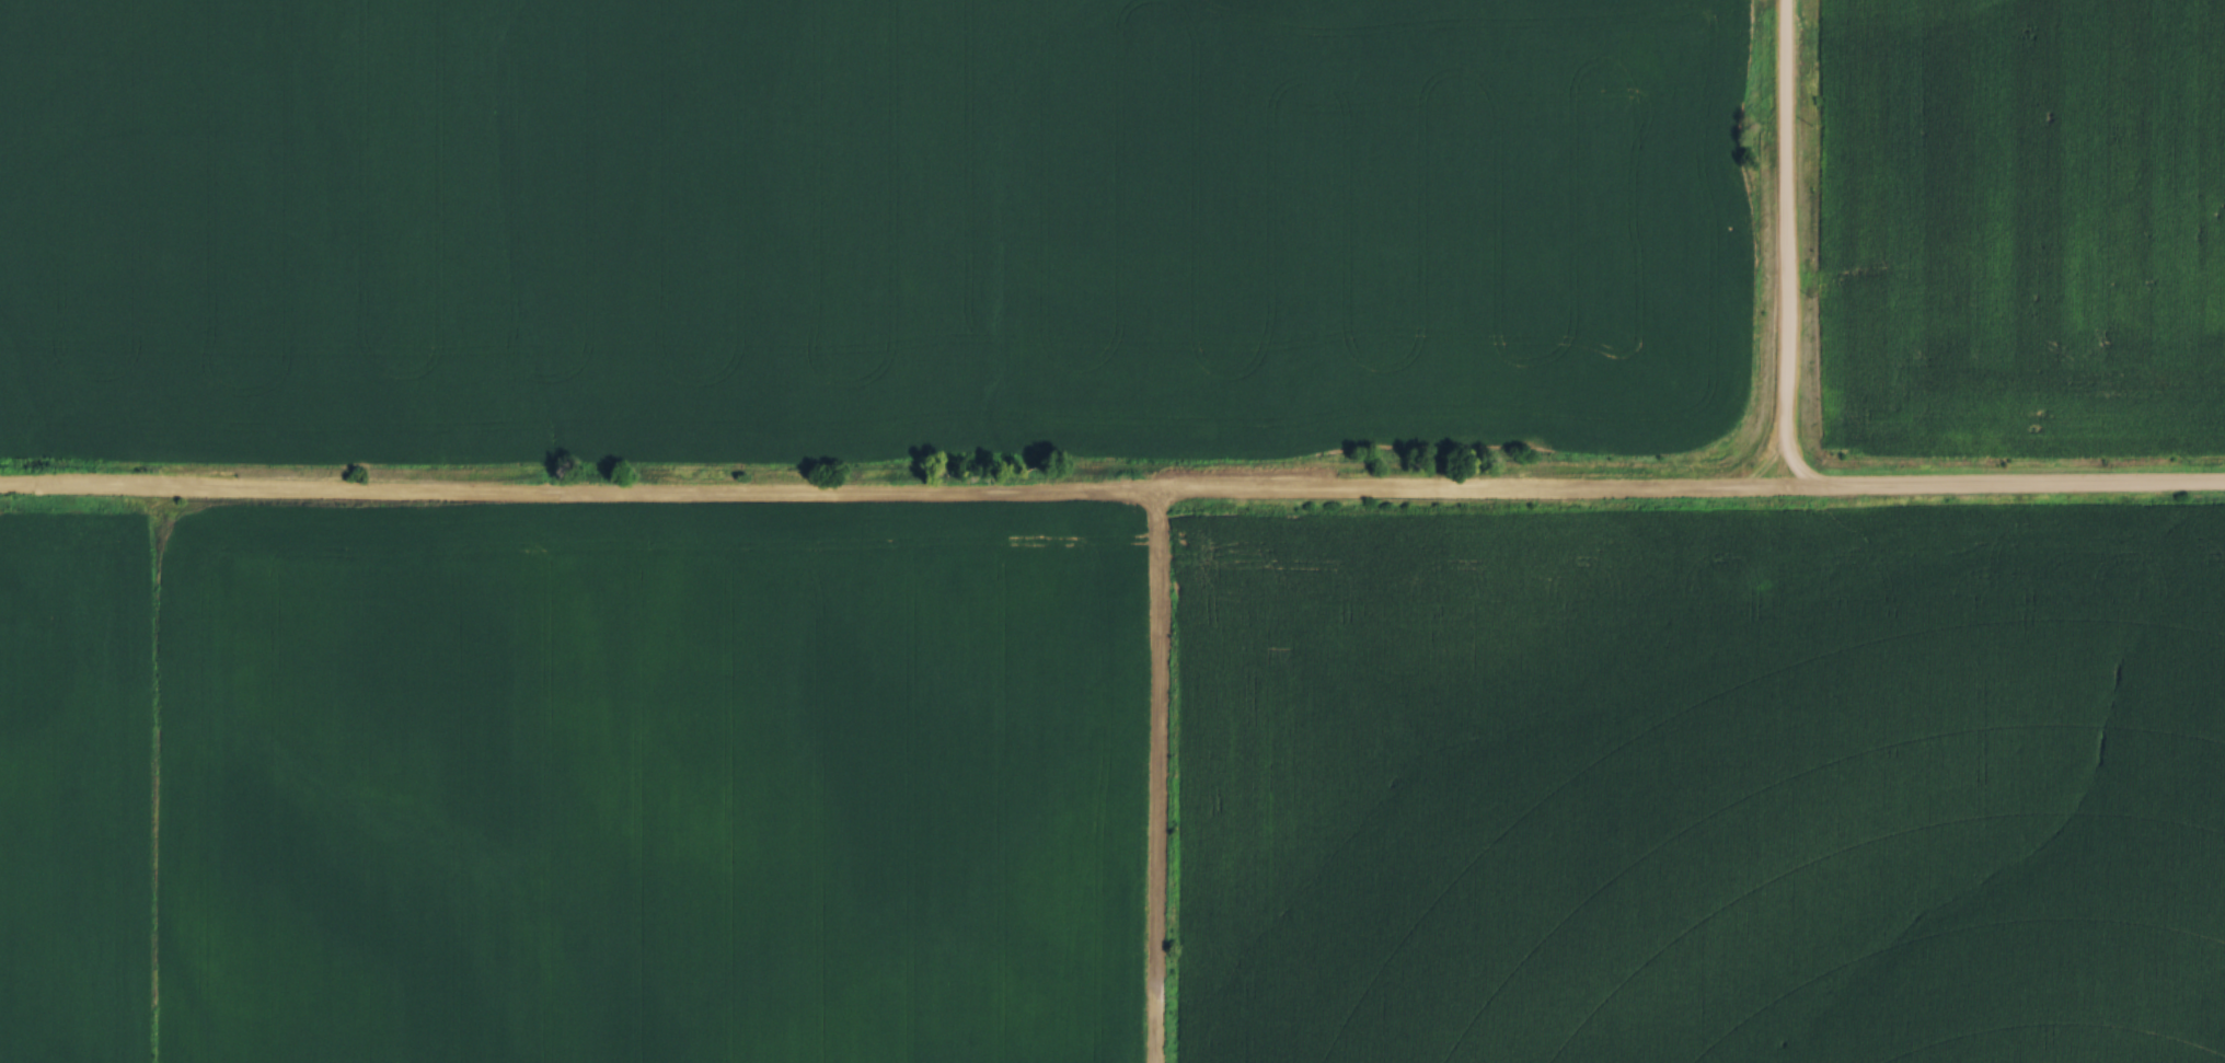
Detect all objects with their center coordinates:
road: (1785, 244)
road: (1111, 490)
road: (1153, 776)

